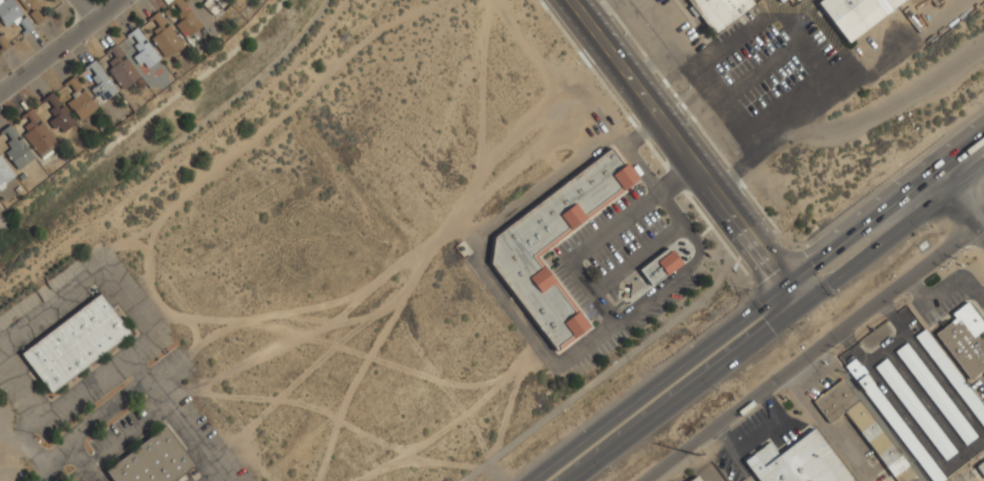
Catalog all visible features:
building: (779, 0)
building: (781, 1)
building: (214, 5)
building: (32, 10)
road: (87, 10)
building: (719, 12)
building: (856, 14)
building: (184, 18)
road: (944, 19)
building: (163, 35)
building: (3, 42)
road: (61, 46)
building: (143, 49)
road: (647, 57)
road: (682, 60)
building: (121, 67)
building: (101, 82)
road: (853, 85)
building: (80, 100)
street lamp: (980, 104)
building: (59, 114)
road: (851, 120)
building: (37, 133)
building: (16, 148)
road: (685, 151)
building: (4, 172)
street lamp: (886, 174)
road: (959, 200)
street lamp: (927, 230)
building: (522, 246)
building: (660, 266)
road: (93, 277)
traffic signals: (785, 284)
street lamp: (749, 290)
street lamp: (833, 296)
traffic signals: (800, 305)
road: (754, 306)
road: (777, 322)
building: (876, 336)
building: (964, 340)
street lamp: (682, 341)
building: (75, 343)
road: (815, 349)
building: (951, 375)
street lamp: (719, 390)
building: (935, 394)
building: (914, 409)
road: (92, 419)
building: (893, 420)
street lamp: (575, 426)
building: (864, 429)
power tower: (695, 454)
building: (153, 460)
building: (797, 462)
building: (981, 467)
street lamp: (611, 472)
building: (694, 479)

